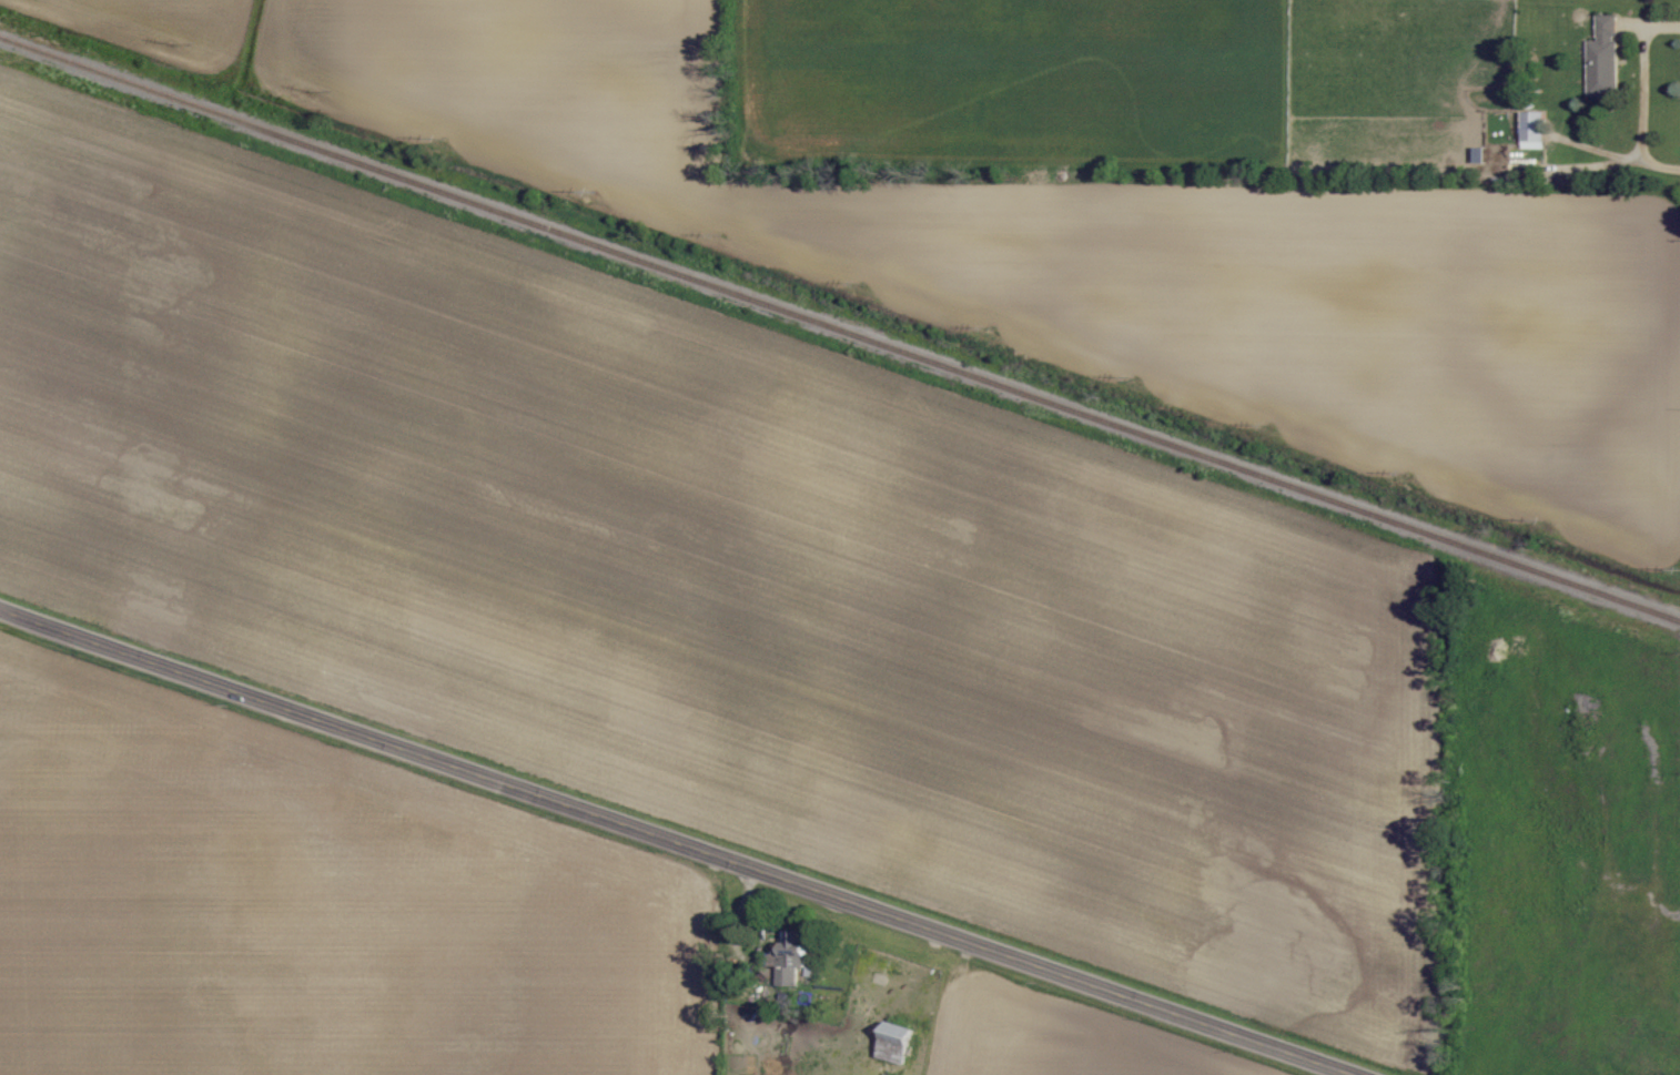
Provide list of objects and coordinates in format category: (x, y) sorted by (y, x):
building: (1605, 60)
building: (1535, 129)
road: (1625, 155)
railway: (840, 326)
road: (681, 840)
building: (792, 961)
building: (897, 1043)

